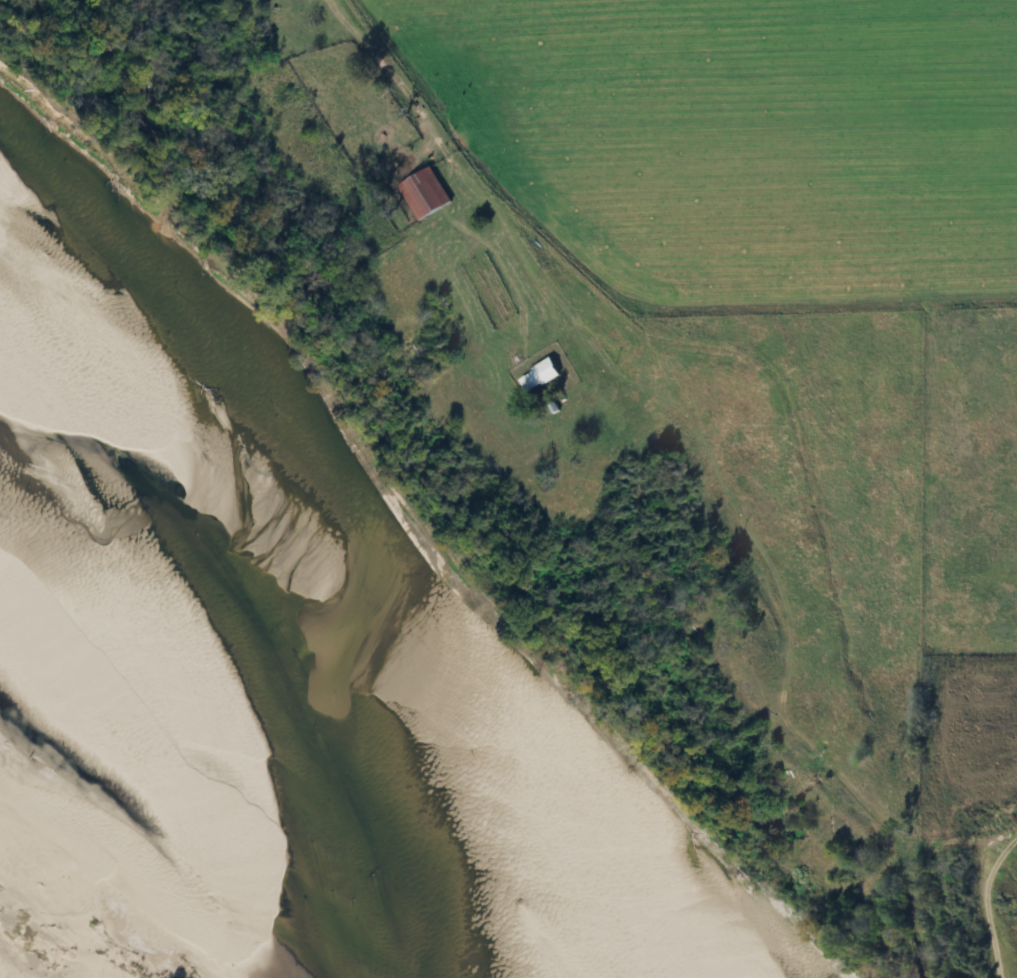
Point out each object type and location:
road: (459, 189)
building: (423, 194)
building: (537, 376)
river: (303, 697)

